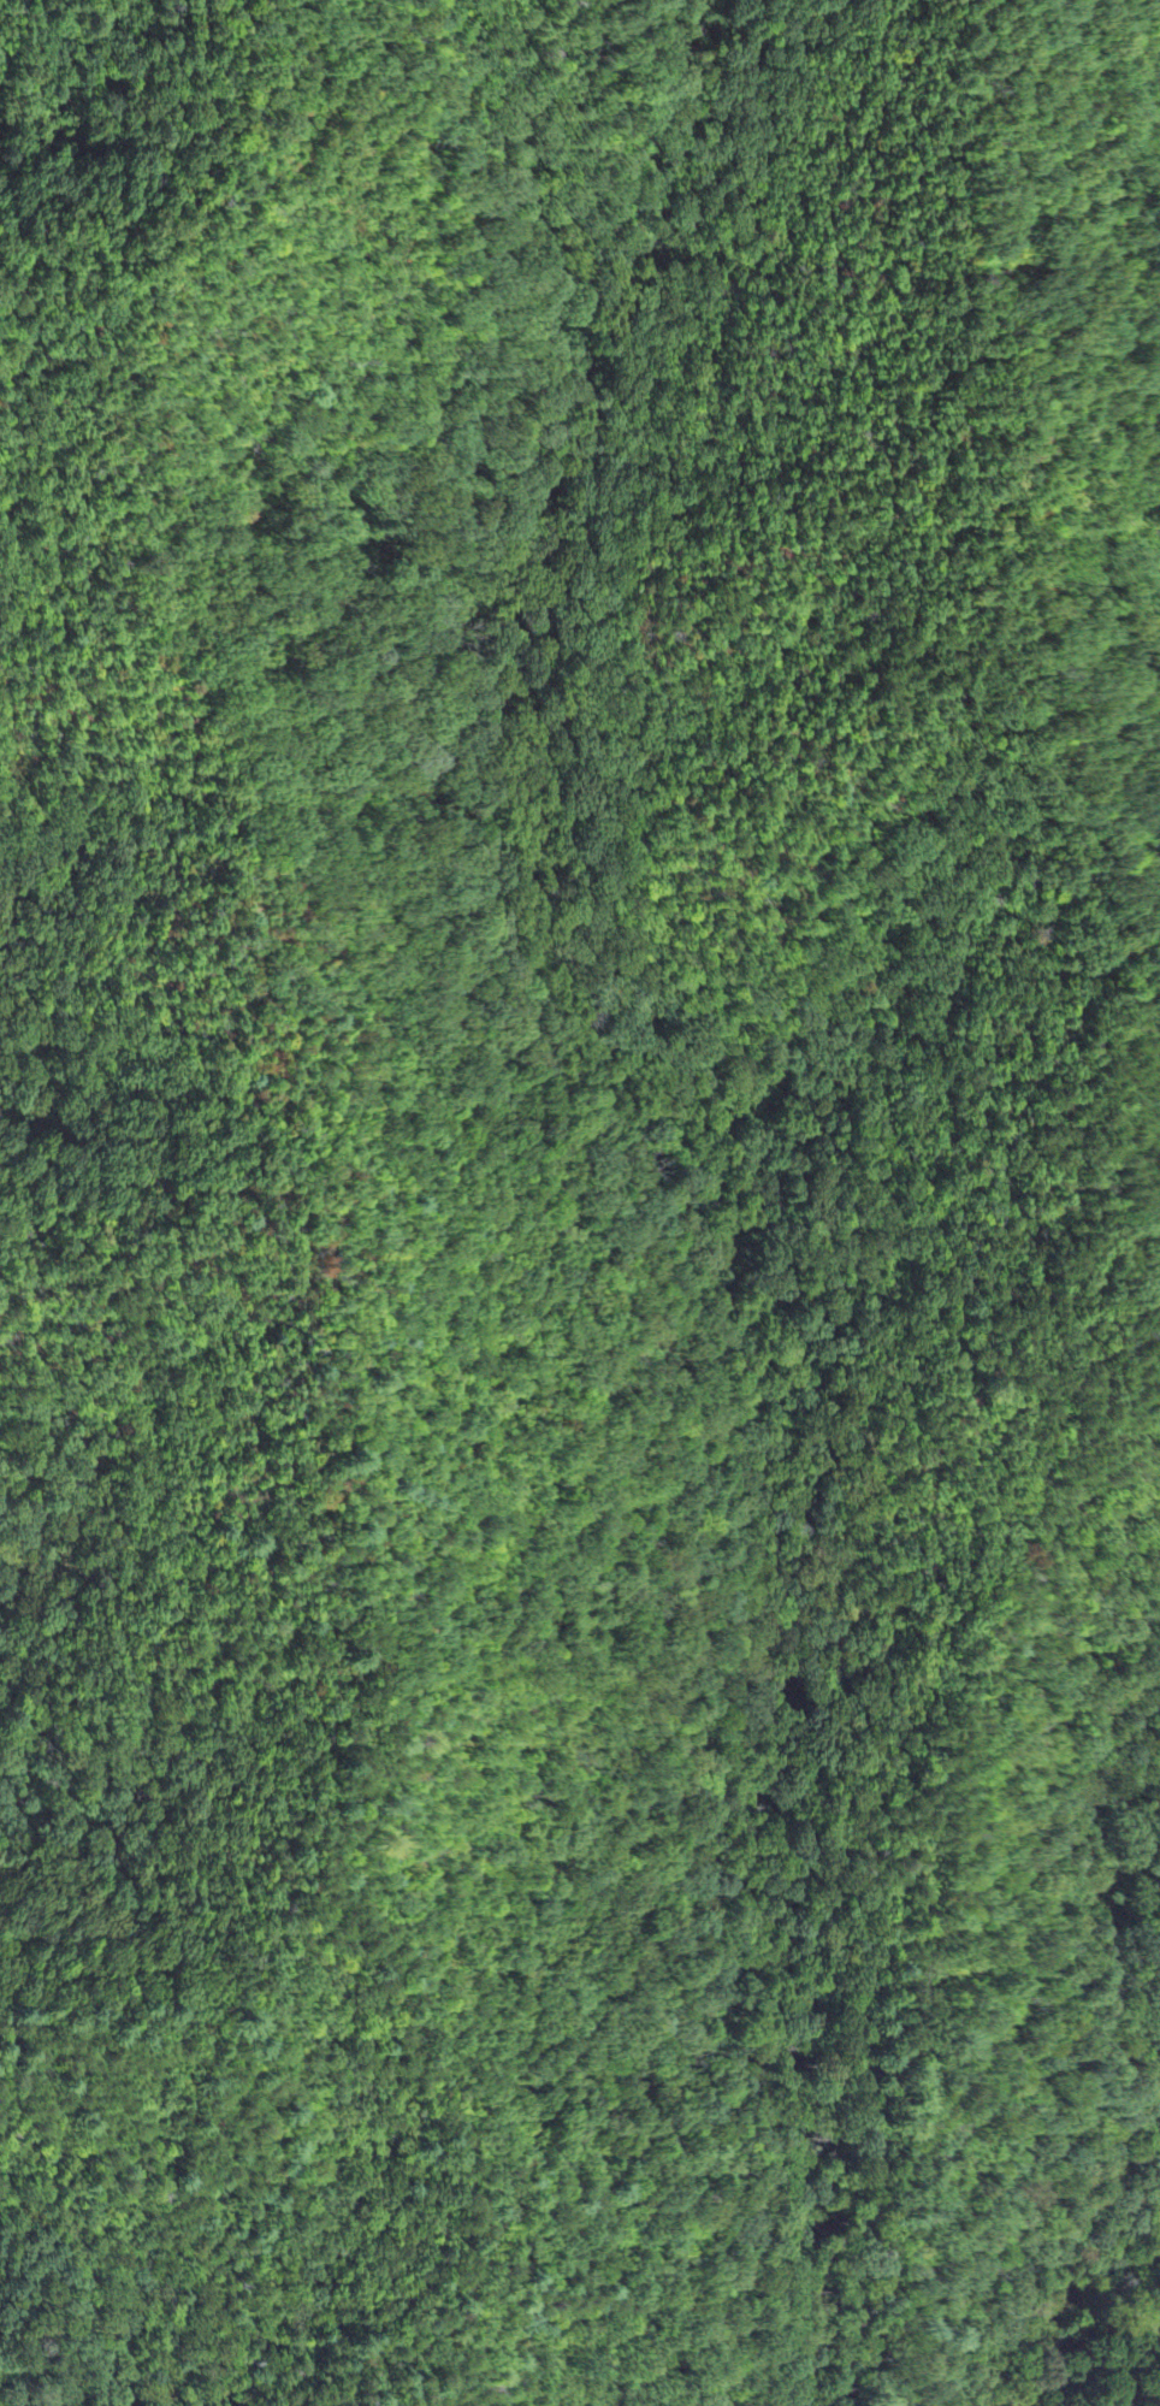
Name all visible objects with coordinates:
river: (1071, 2294)

